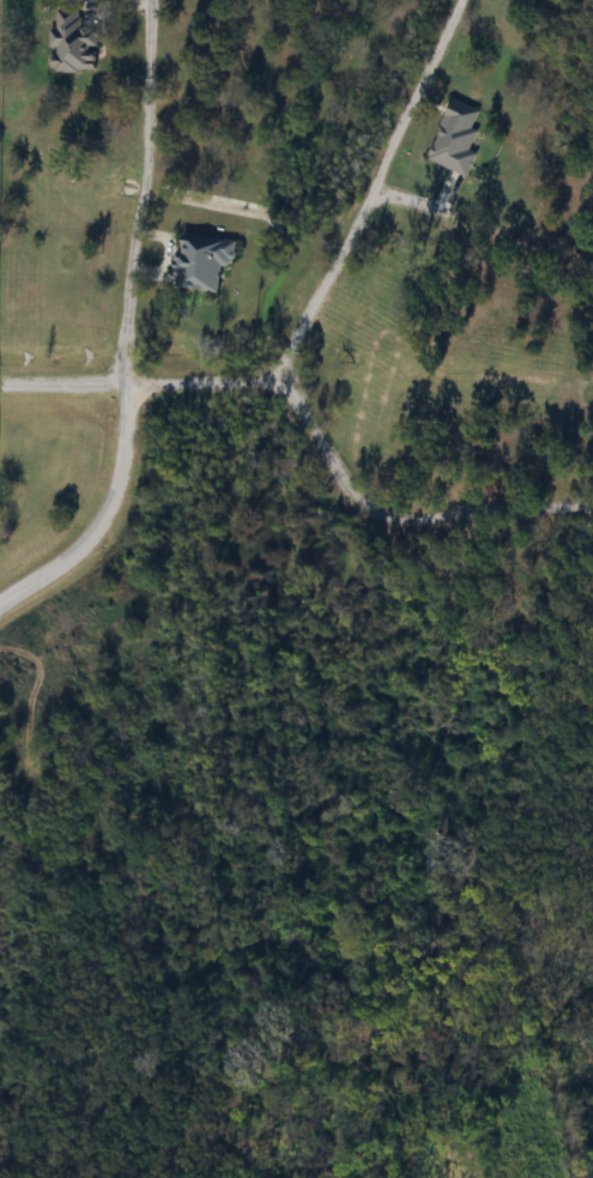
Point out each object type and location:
road: (371, 192)
road: (199, 382)
road: (103, 515)

